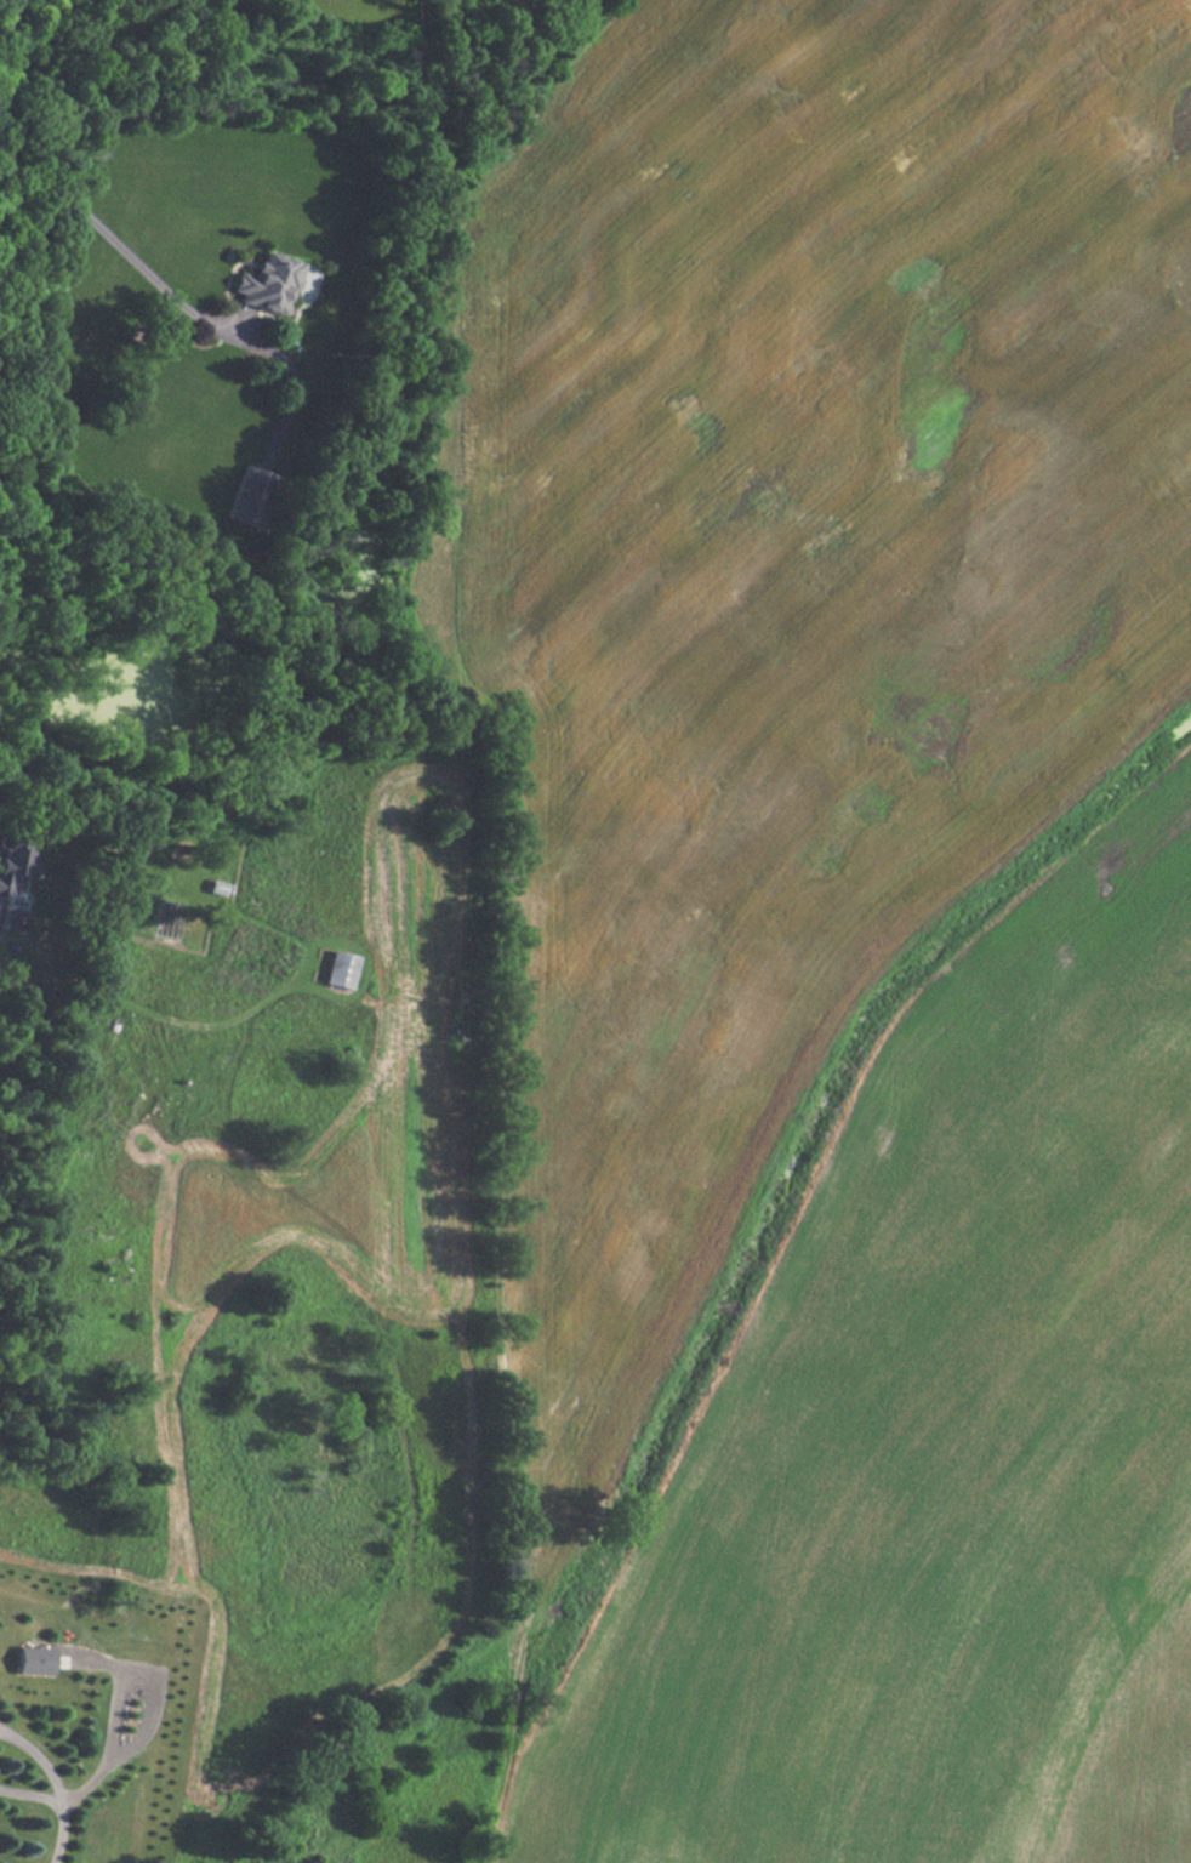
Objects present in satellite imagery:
road: (32, 42)
road: (6, 64)
road: (120, 247)
building: (273, 281)
building: (249, 495)
building: (340, 968)
building: (33, 1658)
road: (115, 1719)
road: (40, 1756)
road: (30, 1798)
road: (59, 1831)

